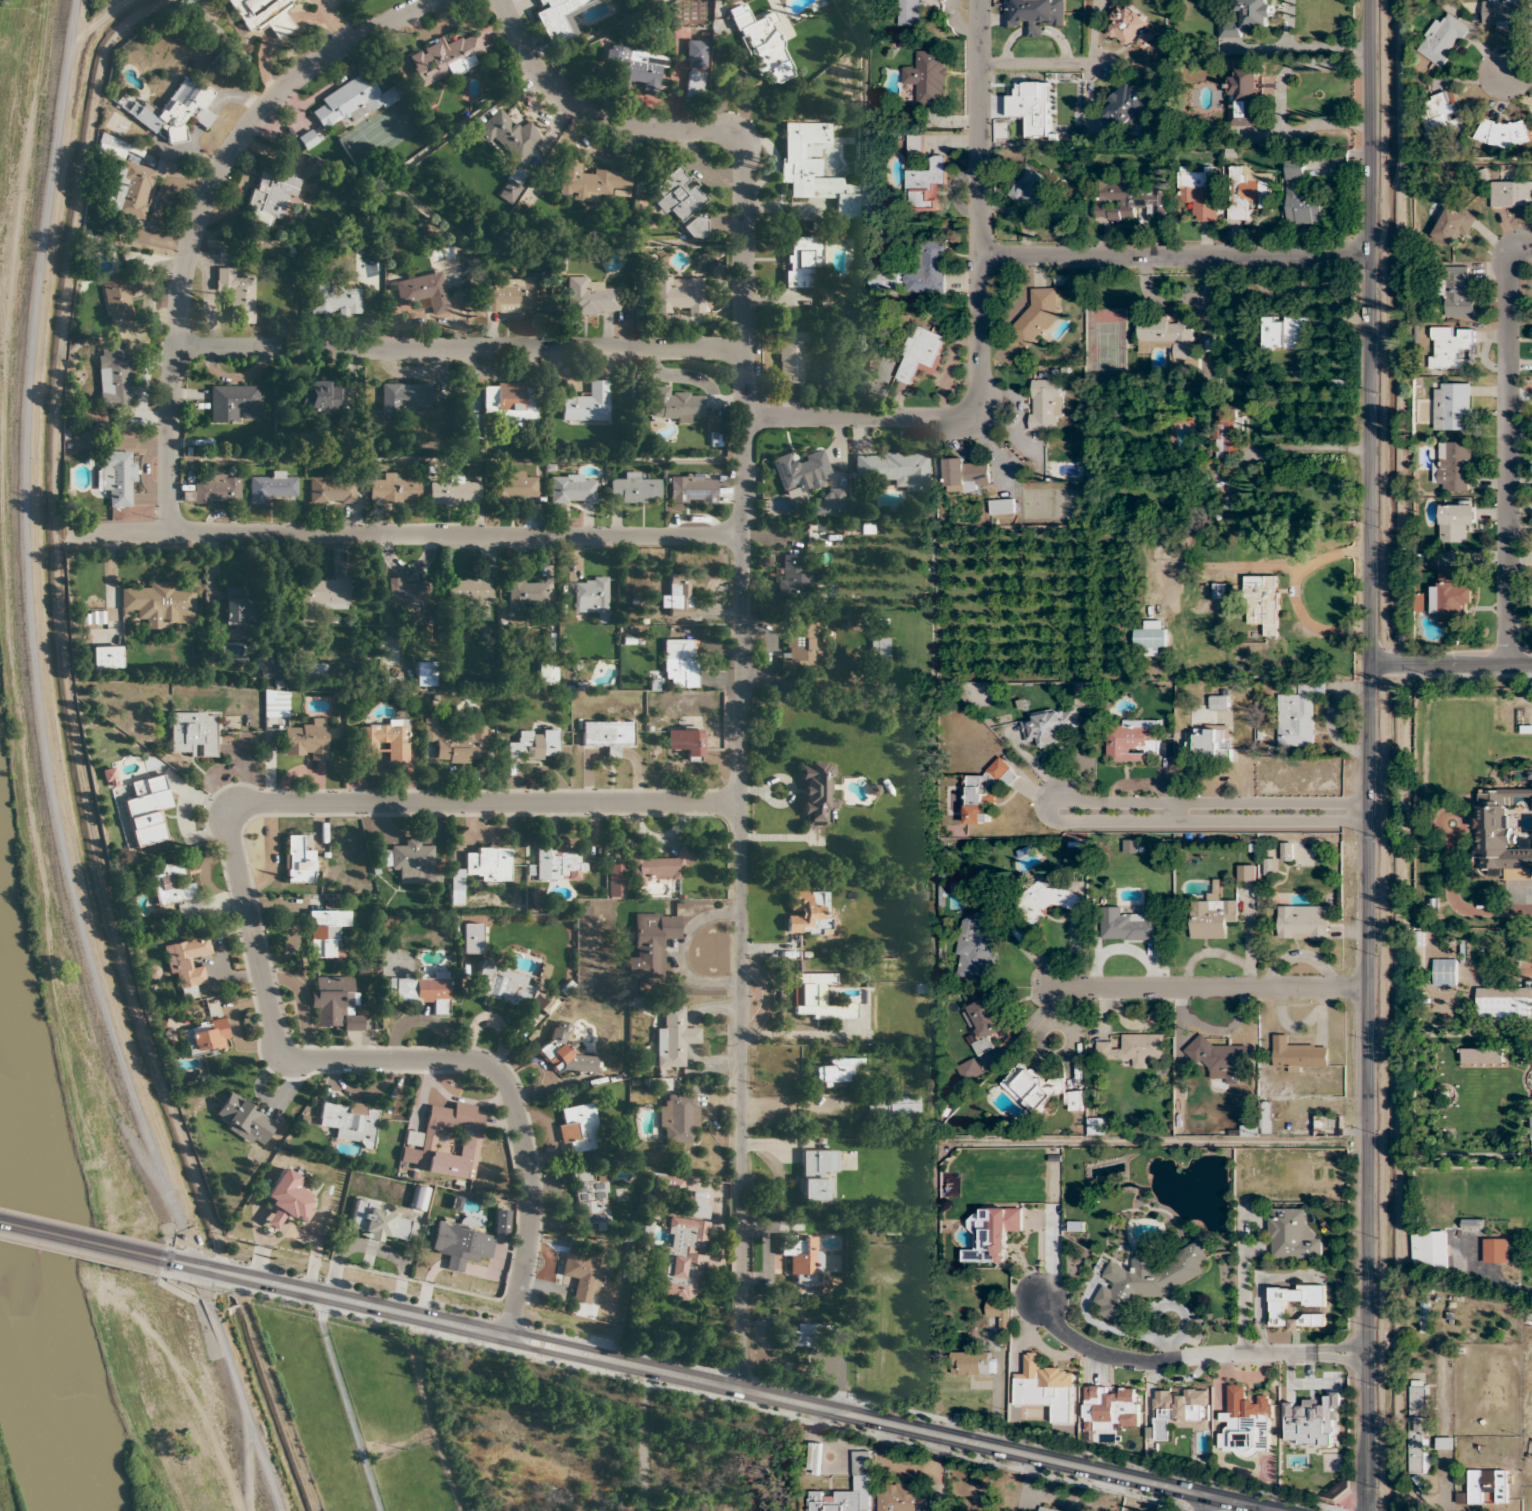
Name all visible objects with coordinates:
building: (911, 12)
building: (1502, 13)
building: (263, 15)
building: (1034, 15)
building: (559, 18)
building: (1248, 19)
building: (1129, 25)
building: (1442, 40)
building: (761, 43)
building: (695, 52)
building: (443, 58)
building: (634, 68)
road: (1517, 75)
building: (926, 77)
building: (693, 85)
building: (1244, 98)
building: (351, 101)
building: (1129, 104)
building: (1440, 118)
building: (1501, 133)
building: (508, 134)
building: (306, 139)
building: (915, 144)
building: (812, 169)
building: (588, 181)
building: (925, 183)
building: (1032, 189)
building: (508, 191)
building: (1247, 191)
building: (1199, 192)
building: (1302, 194)
building: (1511, 194)
building: (677, 195)
building: (269, 197)
building: (1130, 199)
road: (199, 212)
building: (1453, 225)
road: (1174, 256)
building: (801, 260)
building: (917, 271)
building: (421, 288)
building: (1455, 293)
building: (237, 295)
building: (509, 295)
building: (677, 295)
building: (590, 297)
road: (1182, 299)
building: (334, 300)
building: (1038, 315)
road: (981, 323)
building: (1285, 332)
building: (1169, 335)
road: (460, 346)
building: (1449, 346)
building: (921, 354)
building: (791, 356)
road: (1210, 366)
building: (318, 398)
building: (403, 398)
building: (233, 403)
building: (586, 403)
building: (675, 404)
building: (1046, 404)
building: (510, 405)
building: (1452, 406)
building: (1227, 434)
road: (1507, 449)
building: (1454, 467)
building: (891, 468)
building: (799, 472)
building: (964, 475)
building: (513, 486)
building: (271, 488)
building: (392, 489)
building: (570, 489)
building: (690, 489)
building: (213, 490)
building: (331, 490)
building: (633, 490)
building: (454, 492)
building: (1228, 502)
building: (828, 503)
building: (1002, 506)
building: (1456, 522)
road: (406, 534)
building: (793, 578)
building: (470, 590)
building: (1219, 590)
building: (403, 591)
building: (322, 595)
building: (522, 595)
building: (679, 595)
building: (590, 597)
building: (1449, 598)
building: (1262, 603)
building: (157, 604)
building: (236, 607)
road: (743, 613)
building: (92, 618)
building: (1151, 639)
building: (802, 647)
building: (878, 649)
building: (106, 657)
road: (1449, 661)
building: (680, 662)
building: (546, 673)
building: (1218, 703)
building: (1298, 716)
building: (1049, 727)
building: (192, 734)
building: (607, 735)
building: (1131, 738)
building: (383, 740)
building: (304, 741)
building: (454, 742)
building: (685, 742)
building: (1212, 743)
building: (533, 745)
road: (1367, 755)
road: (43, 770)
building: (109, 778)
building: (816, 792)
building: (983, 792)
road: (1047, 805)
building: (147, 810)
road: (1177, 811)
road: (1450, 812)
building: (1497, 838)
building: (296, 861)
building: (409, 861)
building: (487, 863)
building: (557, 863)
building: (659, 868)
building: (1246, 873)
building: (615, 880)
building: (170, 884)
building: (455, 887)
building: (1048, 901)
road: (1459, 906)
building: (807, 913)
building: (1211, 918)
building: (1303, 923)
building: (1129, 924)
road: (250, 927)
building: (325, 933)
building: (470, 939)
building: (651, 944)
building: (976, 946)
road: (1501, 970)
building: (1444, 973)
building: (501, 985)
road: (1208, 987)
building: (423, 991)
building: (815, 999)
building: (333, 1004)
building: (1504, 1004)
building: (985, 1023)
building: (206, 1038)
building: (674, 1039)
building: (1133, 1048)
building: (564, 1051)
building: (1298, 1055)
building: (1482, 1056)
building: (1220, 1060)
building: (969, 1069)
building: (836, 1072)
building: (1032, 1088)
building: (1075, 1101)
building: (891, 1107)
building: (243, 1119)
building: (678, 1119)
building: (349, 1122)
building: (1261, 1122)
building: (1096, 1126)
building: (1531, 1127)
building: (578, 1128)
building: (444, 1143)
building: (815, 1174)
building: (664, 1190)
building: (589, 1197)
building: (287, 1200)
building: (697, 1208)
building: (377, 1222)
building: (1472, 1224)
building: (993, 1235)
building: (1292, 1235)
building: (466, 1241)
road: (80, 1242)
building: (1429, 1250)
building: (1495, 1251)
building: (801, 1258)
building: (680, 1260)
building: (580, 1277)
road: (1489, 1278)
building: (1147, 1280)
river: (34, 1305)
building: (1278, 1310)
building: (999, 1312)
building: (796, 1338)
road: (1192, 1349)
building: (971, 1363)
road: (712, 1386)
building: (1045, 1388)
building: (1177, 1411)
building: (1246, 1423)
building: (1418, 1429)
road: (646, 1441)
building: (1445, 1443)
building: (860, 1463)
building: (1484, 1487)
building: (904, 1499)
building: (837, 1501)
road: (1205, 1504)
building: (1046, 1509)

